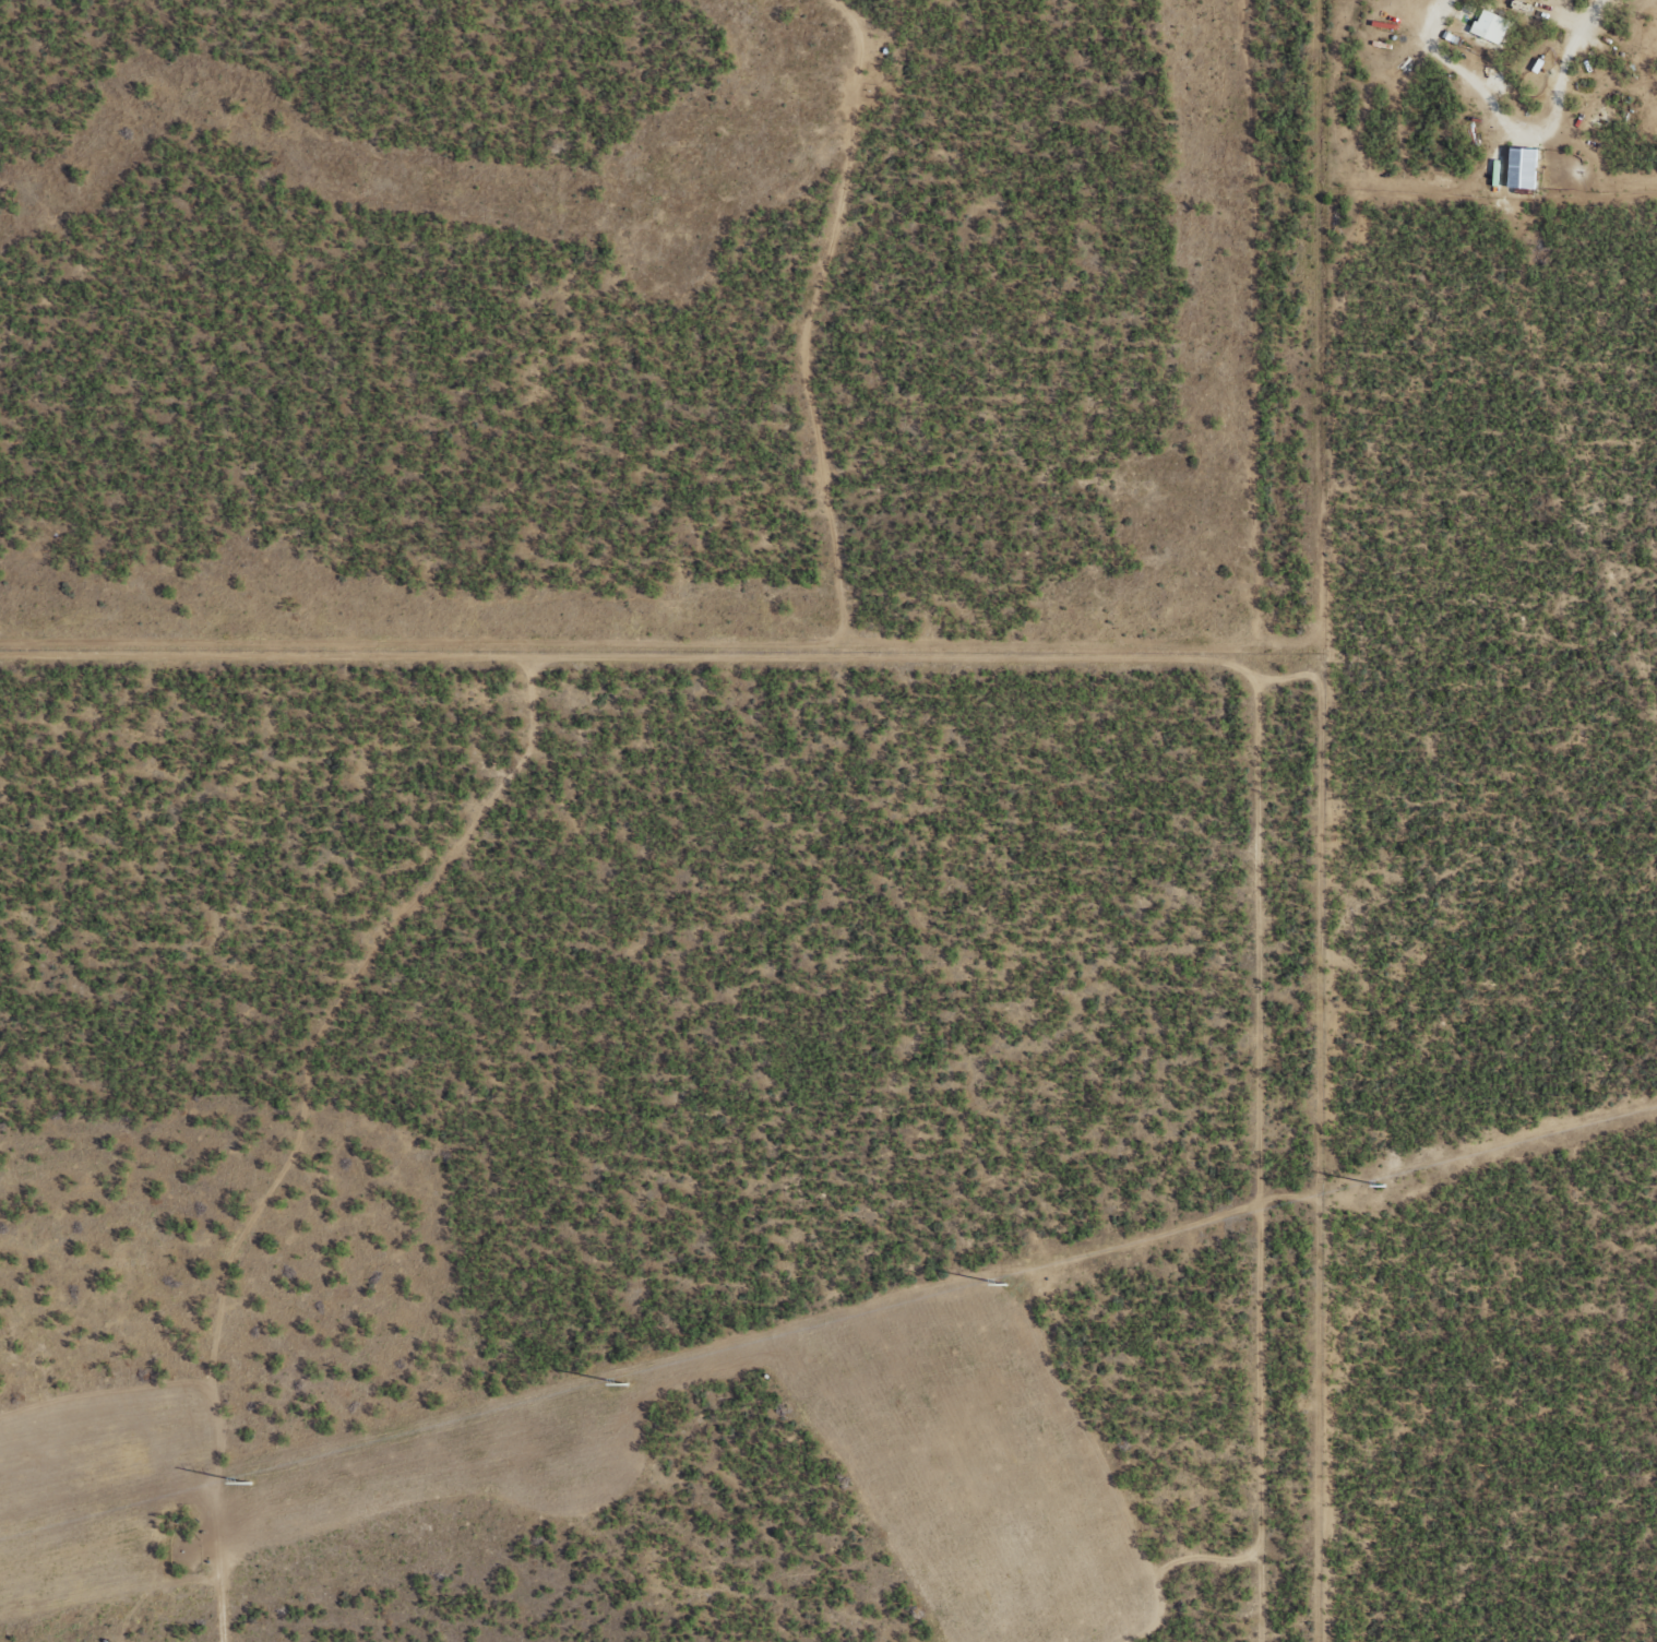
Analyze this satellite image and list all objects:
building: (1488, 26)
building: (1519, 167)
power tower: (1380, 1183)
power tower: (1002, 1283)
power tower: (623, 1382)
power tower: (246, 1482)

